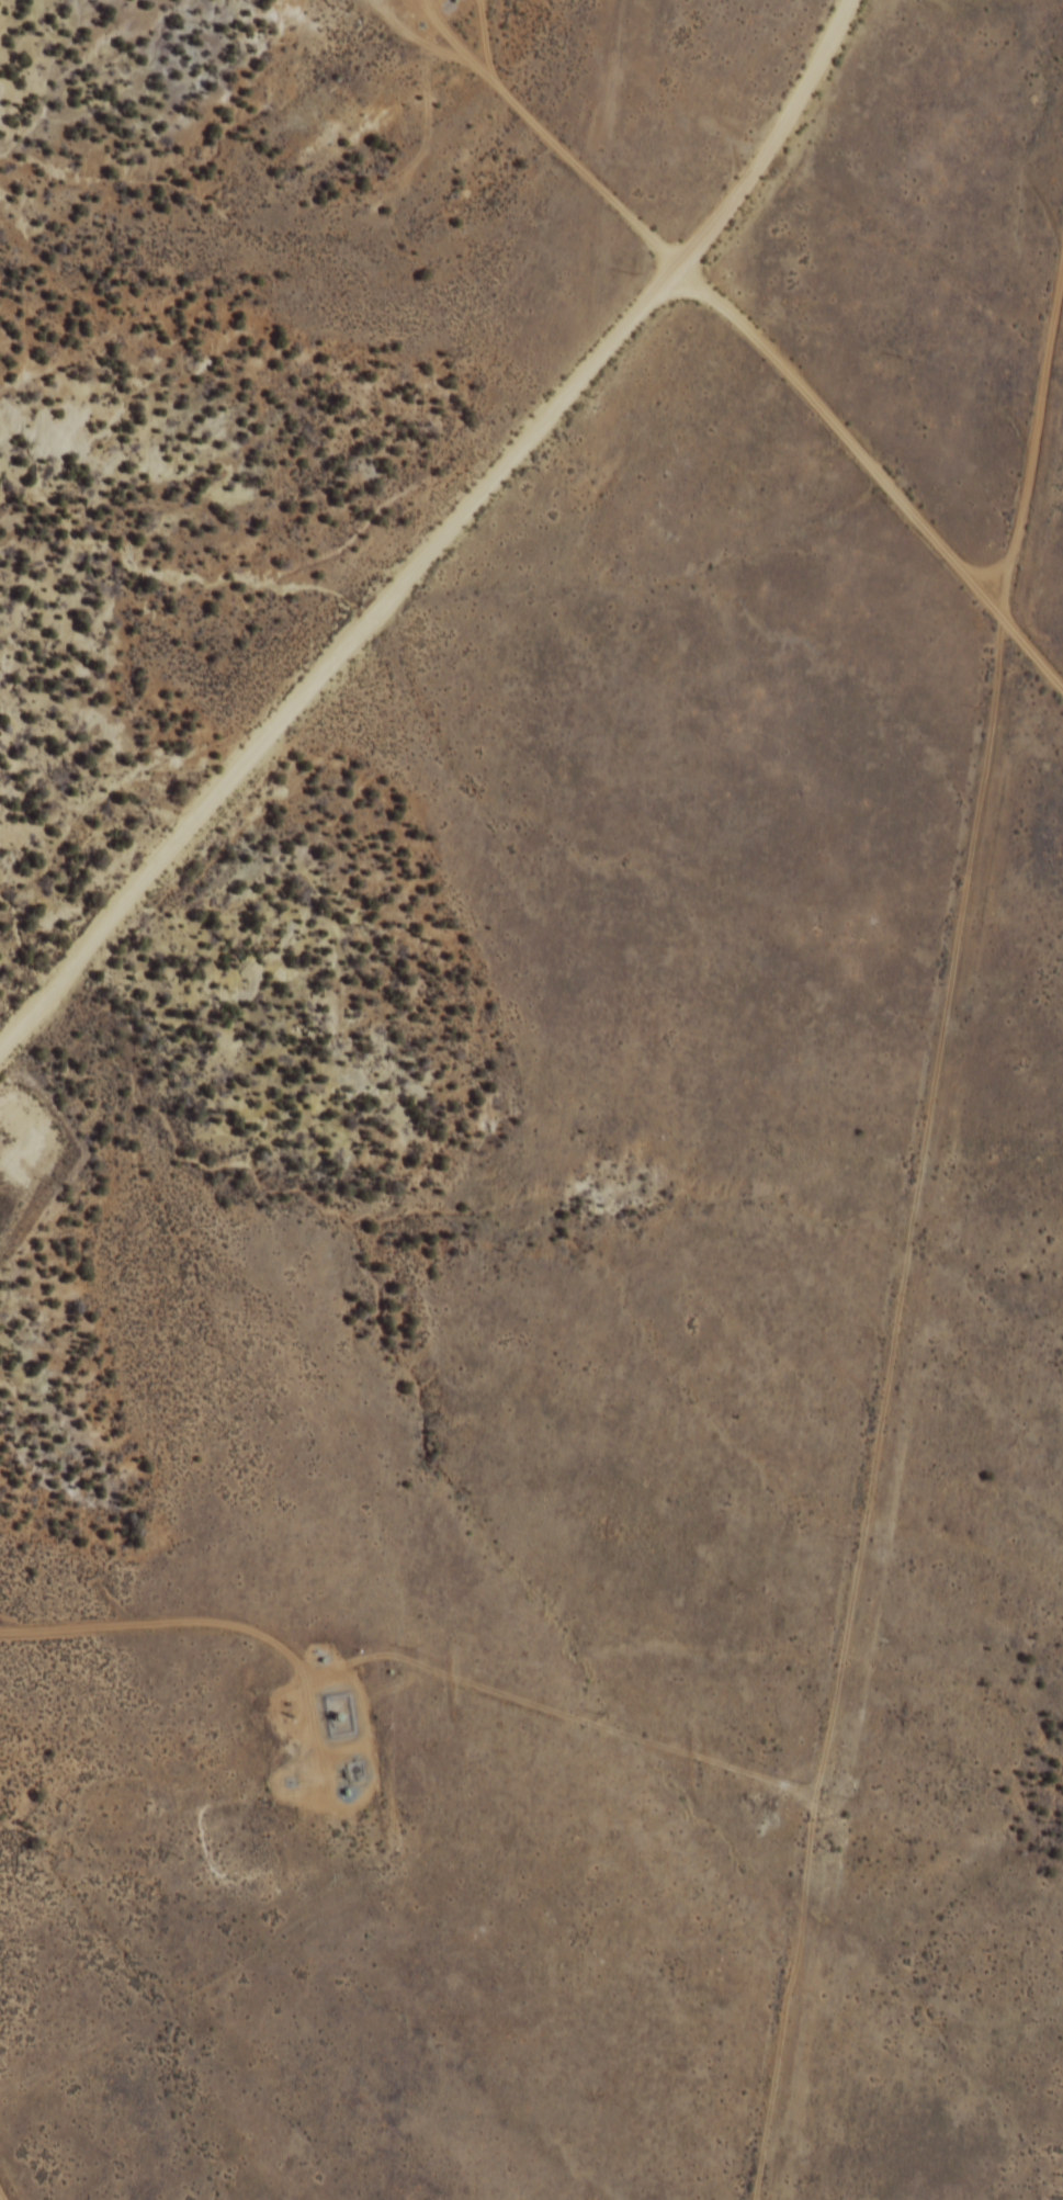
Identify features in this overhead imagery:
road: (757, 345)
road: (438, 535)
road: (884, 1160)
road: (172, 1627)

